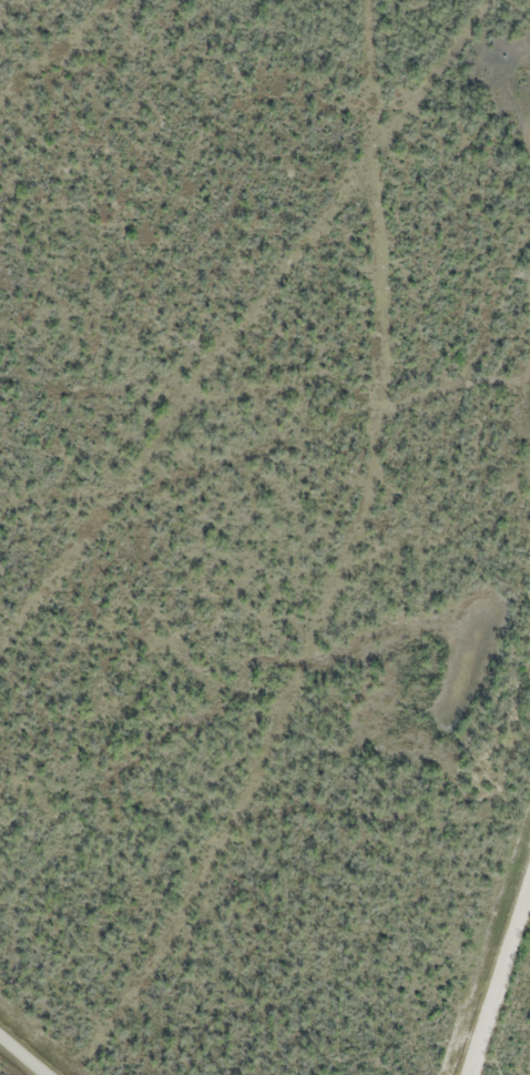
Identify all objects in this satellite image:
road: (496, 972)
road: (20, 1057)

